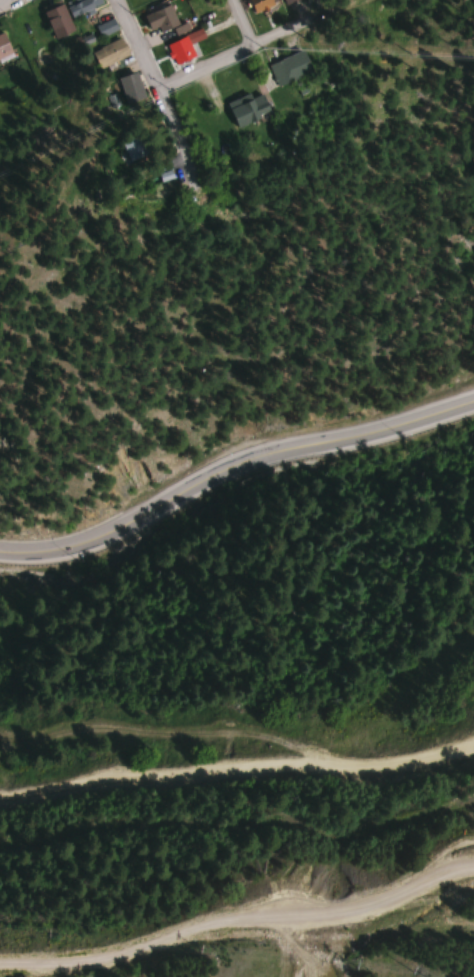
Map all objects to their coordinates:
building: (288, 1)
road: (5, 2)
building: (260, 4)
building: (80, 5)
building: (57, 19)
building: (160, 19)
road: (240, 23)
building: (107, 28)
building: (3, 46)
building: (182, 47)
building: (109, 53)
road: (221, 60)
building: (290, 67)
road: (150, 75)
building: (131, 87)
building: (247, 107)
building: (133, 145)
road: (231, 465)
road: (237, 770)
road: (238, 920)

